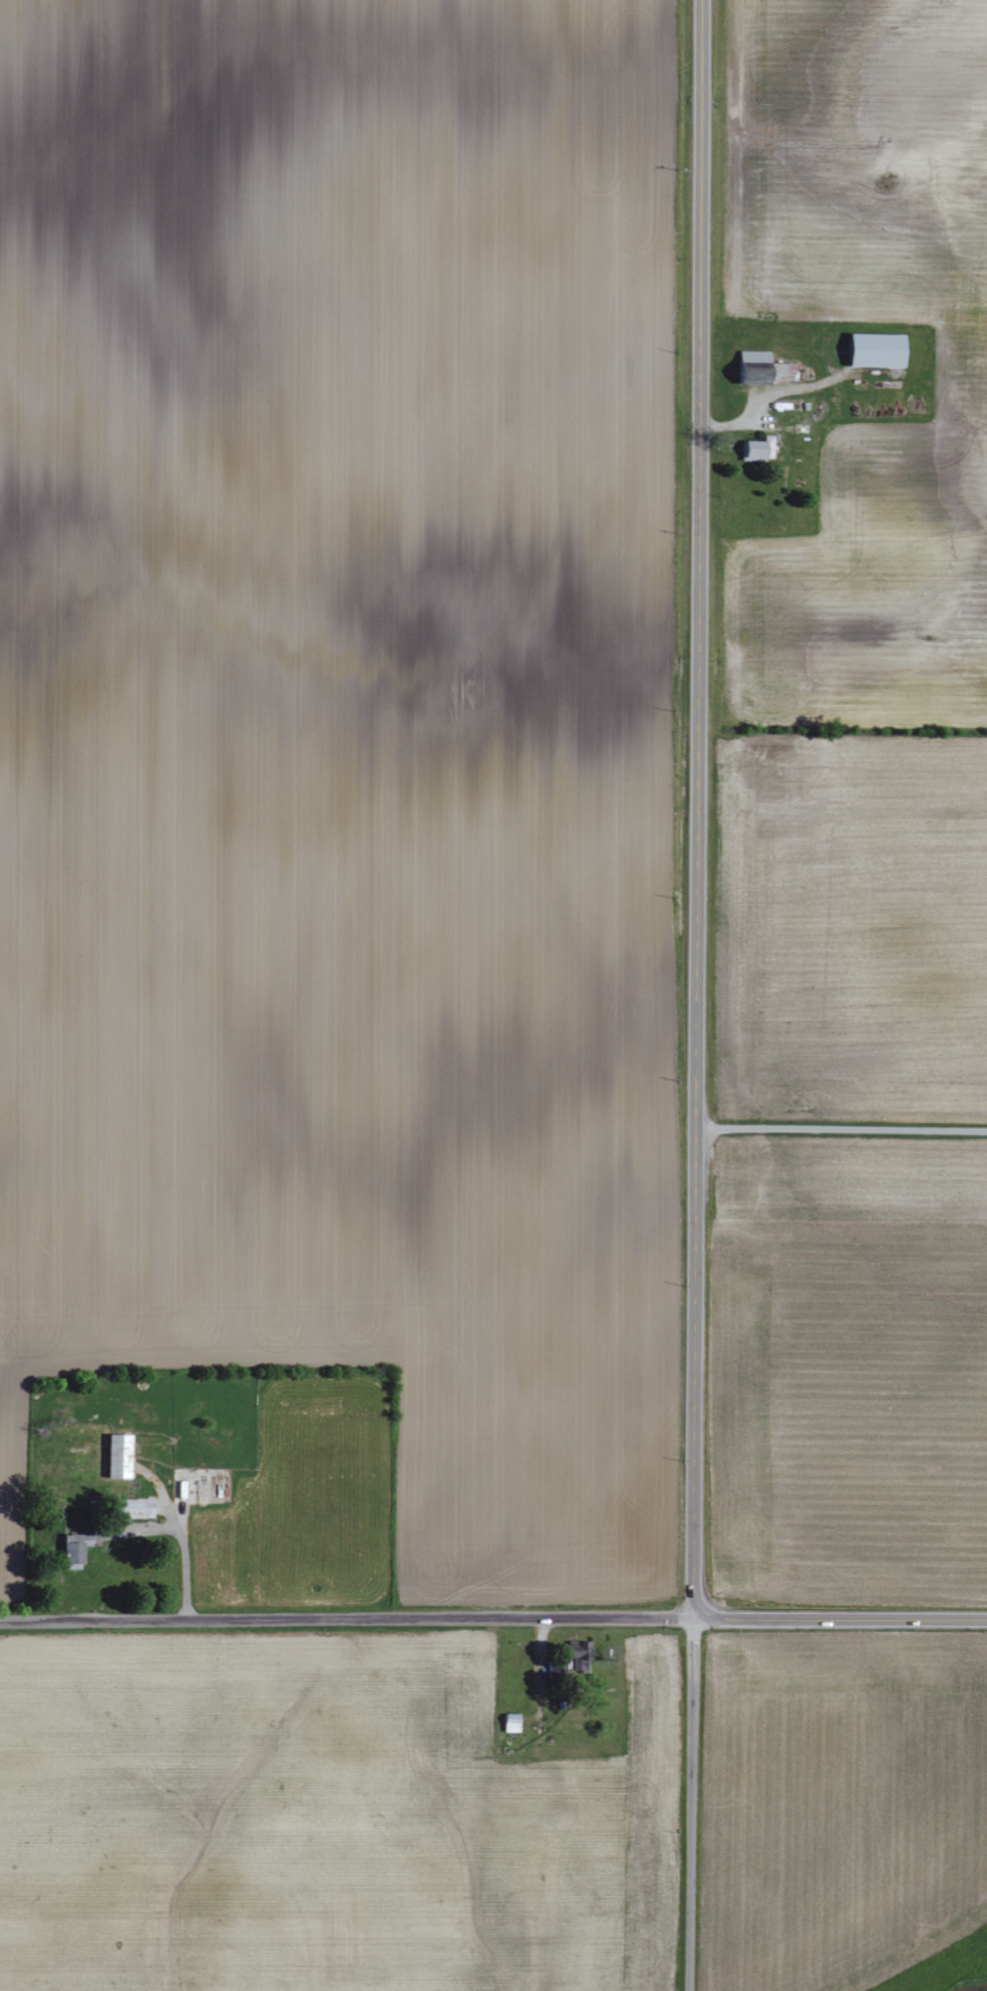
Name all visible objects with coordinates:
building: (875, 351)
building: (759, 368)
building: (756, 449)
road: (696, 809)
road: (840, 1129)
building: (118, 1457)
building: (133, 1508)
road: (181, 1537)
building: (74, 1548)
road: (839, 1620)
road: (345, 1621)
building: (578, 1655)
building: (511, 1723)
road: (689, 1805)

